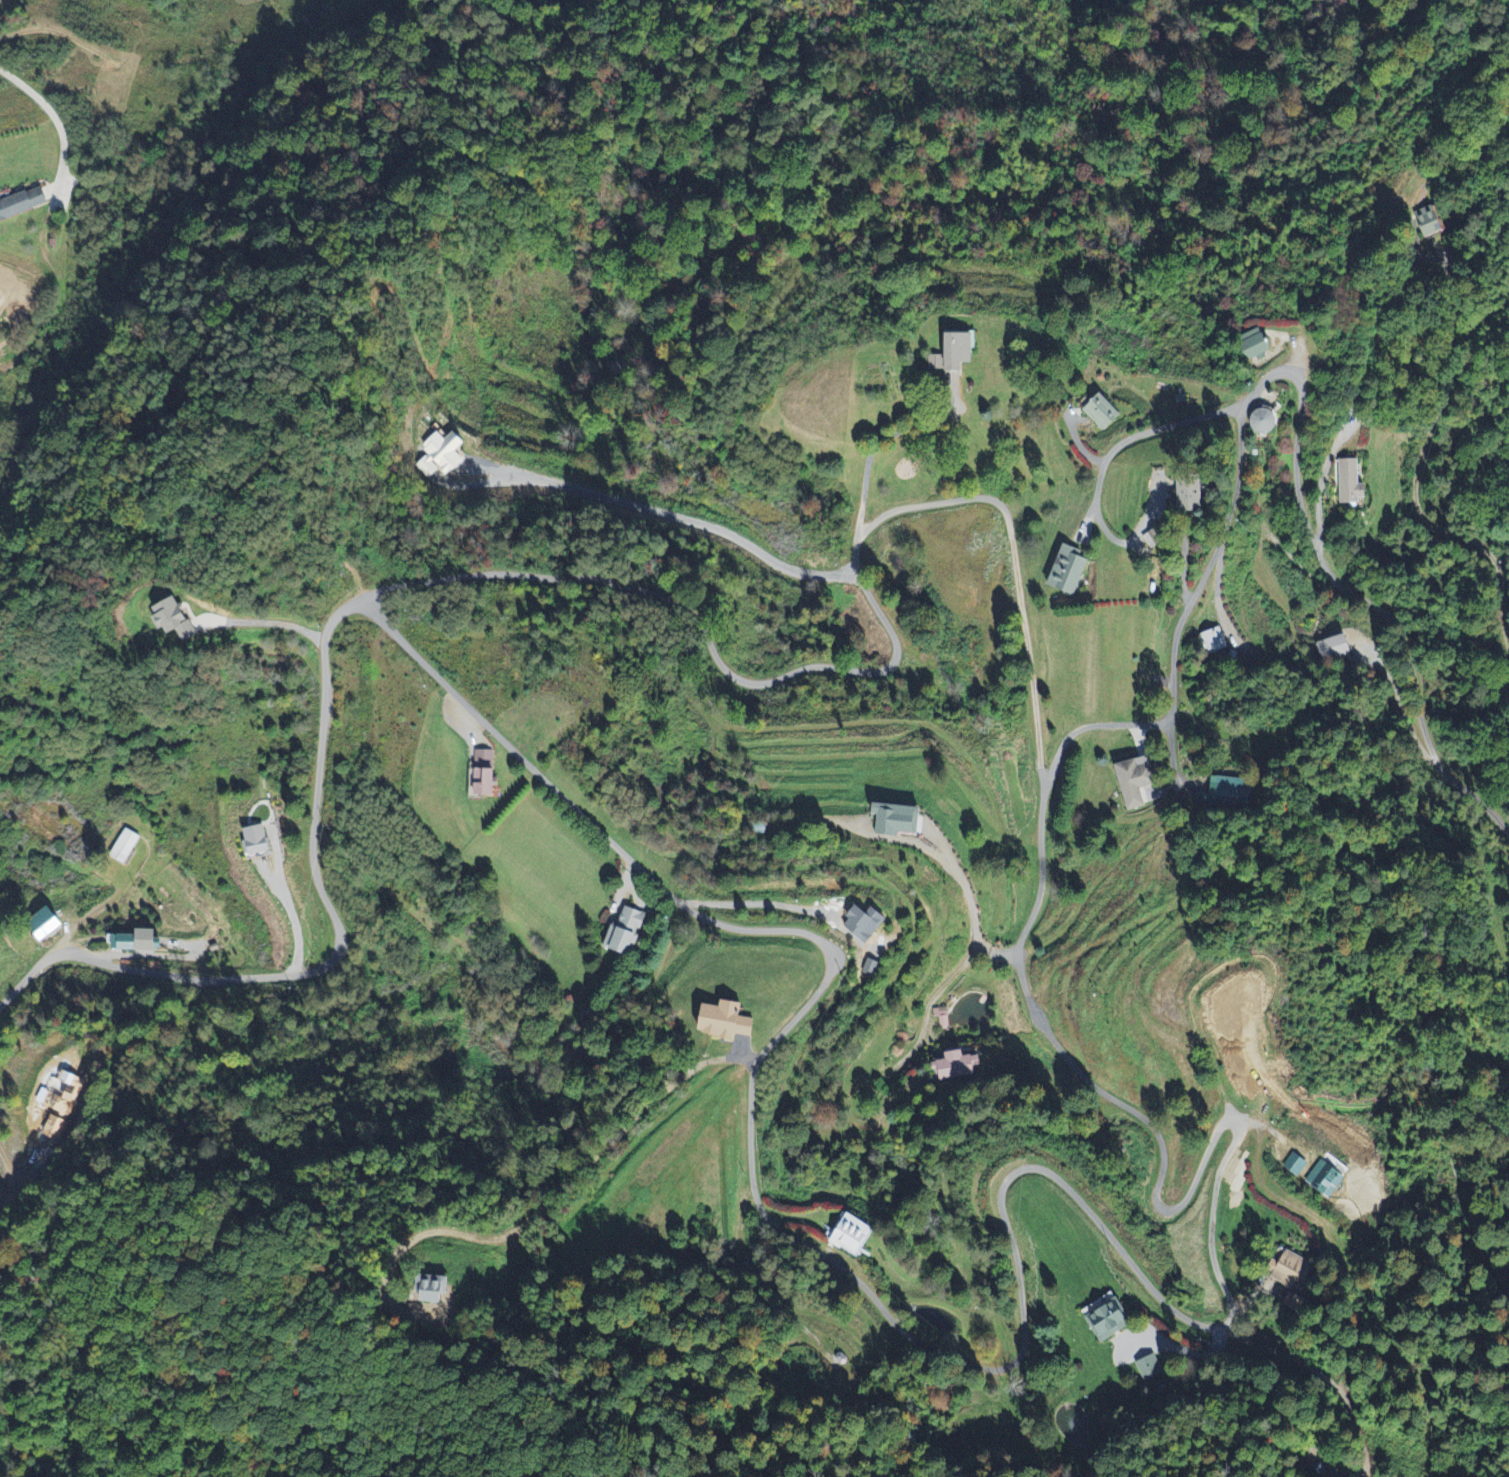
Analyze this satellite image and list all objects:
road: (56, 117)
building: (24, 204)
building: (1428, 221)
building: (1257, 345)
building: (958, 351)
road: (1354, 378)
building: (1104, 414)
road: (1300, 417)
road: (915, 426)
road: (1163, 437)
building: (441, 454)
road: (1419, 476)
building: (1350, 483)
road: (864, 488)
building: (1195, 494)
road: (944, 501)
road: (680, 516)
building: (1158, 539)
building: (1070, 570)
road: (344, 594)
building: (178, 620)
road: (265, 622)
building: (1214, 641)
building: (1333, 647)
road: (1092, 725)
road: (1037, 726)
road: (1223, 745)
building: (489, 776)
building: (1140, 782)
building: (1230, 791)
road: (556, 820)
building: (902, 820)
building: (258, 842)
building: (126, 846)
road: (965, 886)
road: (292, 913)
road: (82, 920)
building: (48, 926)
building: (625, 931)
building: (139, 942)
road: (998, 952)
building: (943, 1017)
building: (727, 1022)
road: (1202, 1032)
building: (959, 1066)
building: (1297, 1165)
building: (1327, 1180)
road: (1162, 1208)
building: (849, 1234)
building: (1293, 1271)
road: (1355, 1286)
building: (431, 1289)
building: (1296, 1305)
building: (1112, 1317)
road: (956, 1357)
building: (1150, 1367)
road: (1322, 1373)

